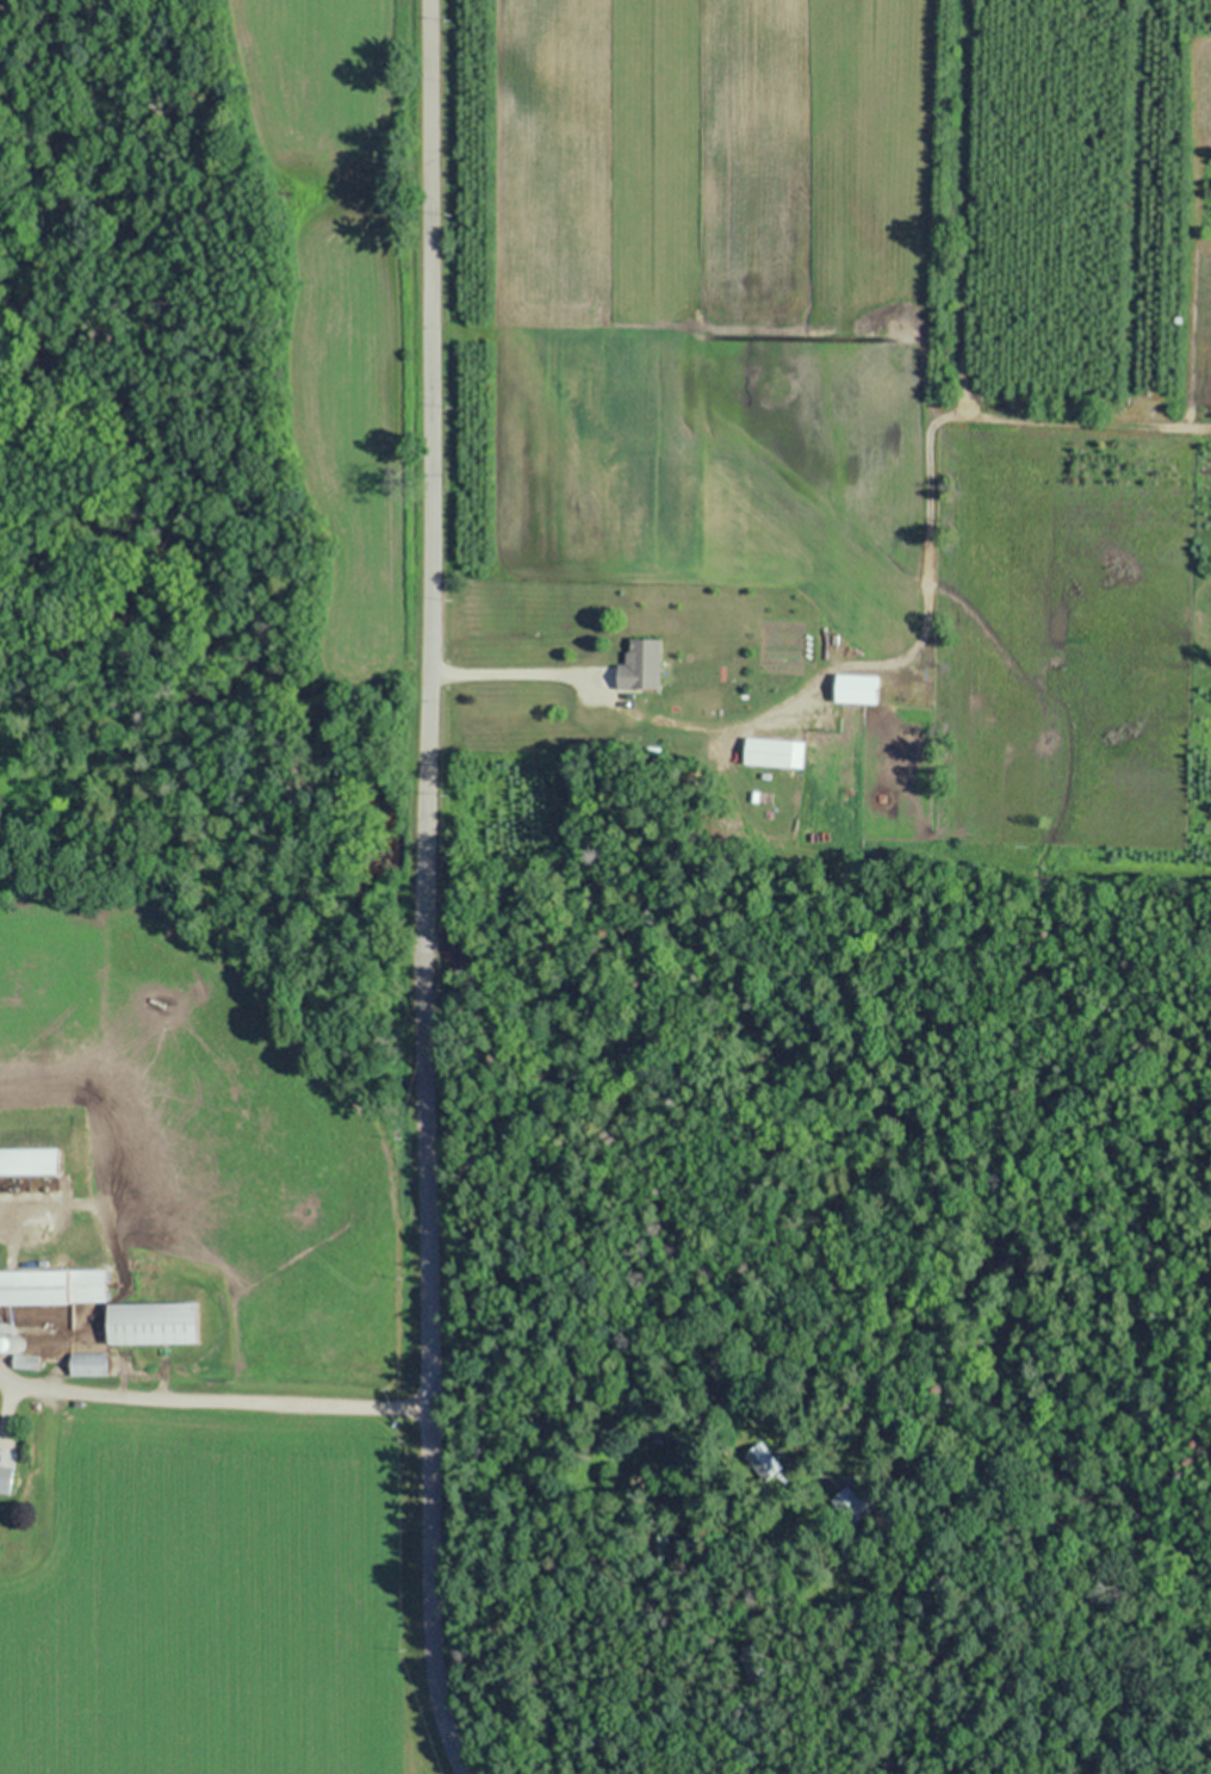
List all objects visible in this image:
building: (641, 665)
road: (504, 672)
building: (769, 752)
road: (423, 888)
building: (29, 1162)
building: (52, 1288)
building: (150, 1325)
building: (24, 1363)
building: (88, 1366)
road: (5, 1381)
road: (221, 1398)
building: (763, 1463)
building: (5, 1478)
building: (852, 1507)

